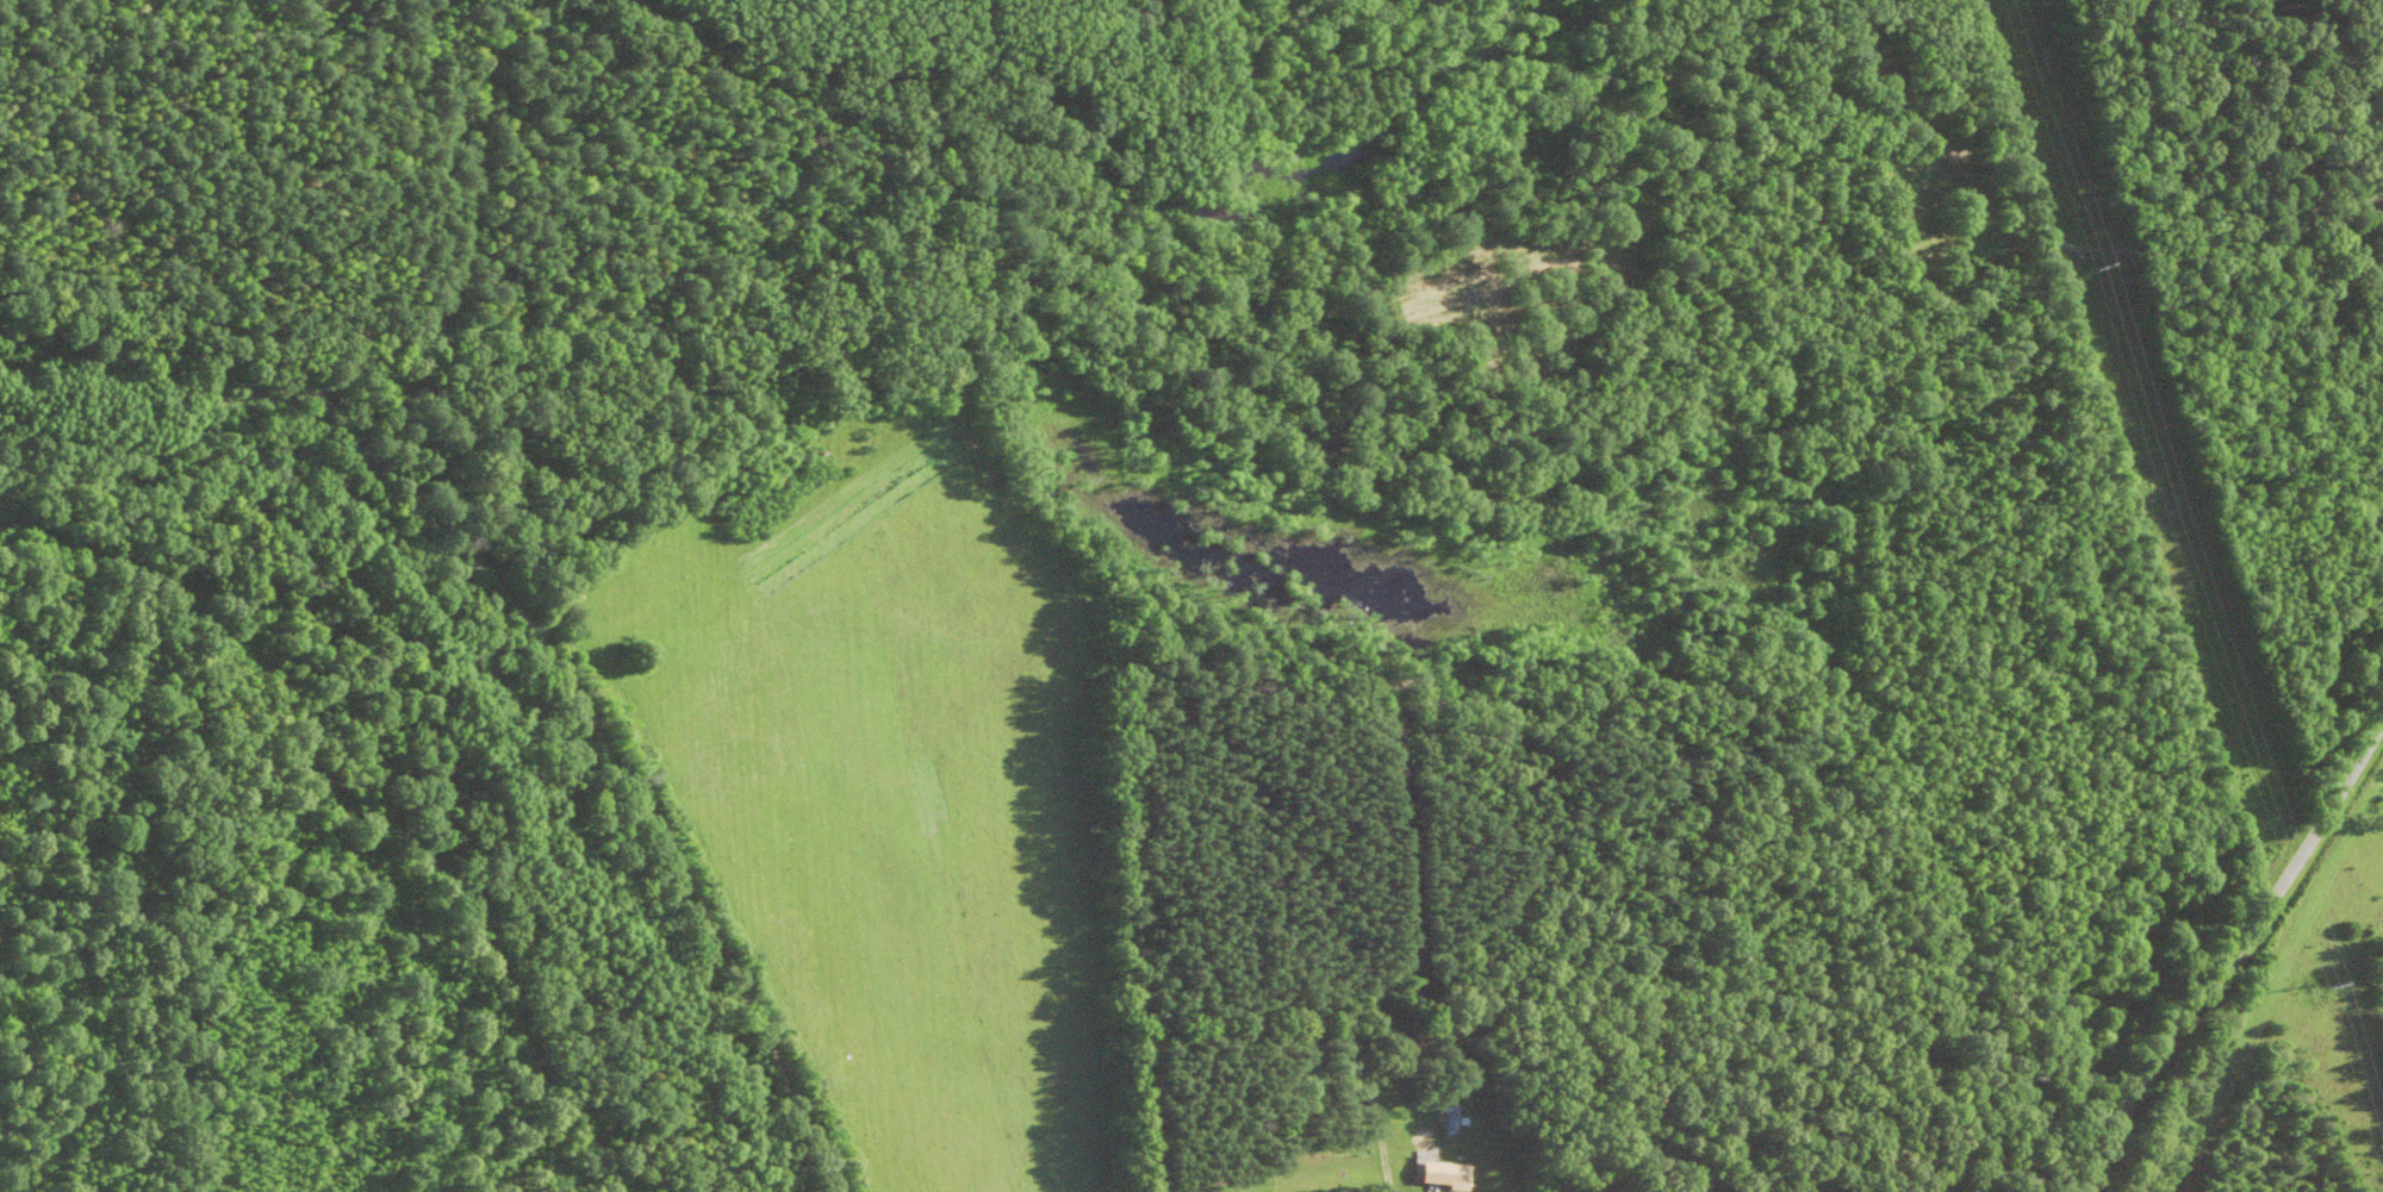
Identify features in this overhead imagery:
road: (866, 422)
road: (2233, 944)
building: (1448, 1123)
building: (1441, 1175)

